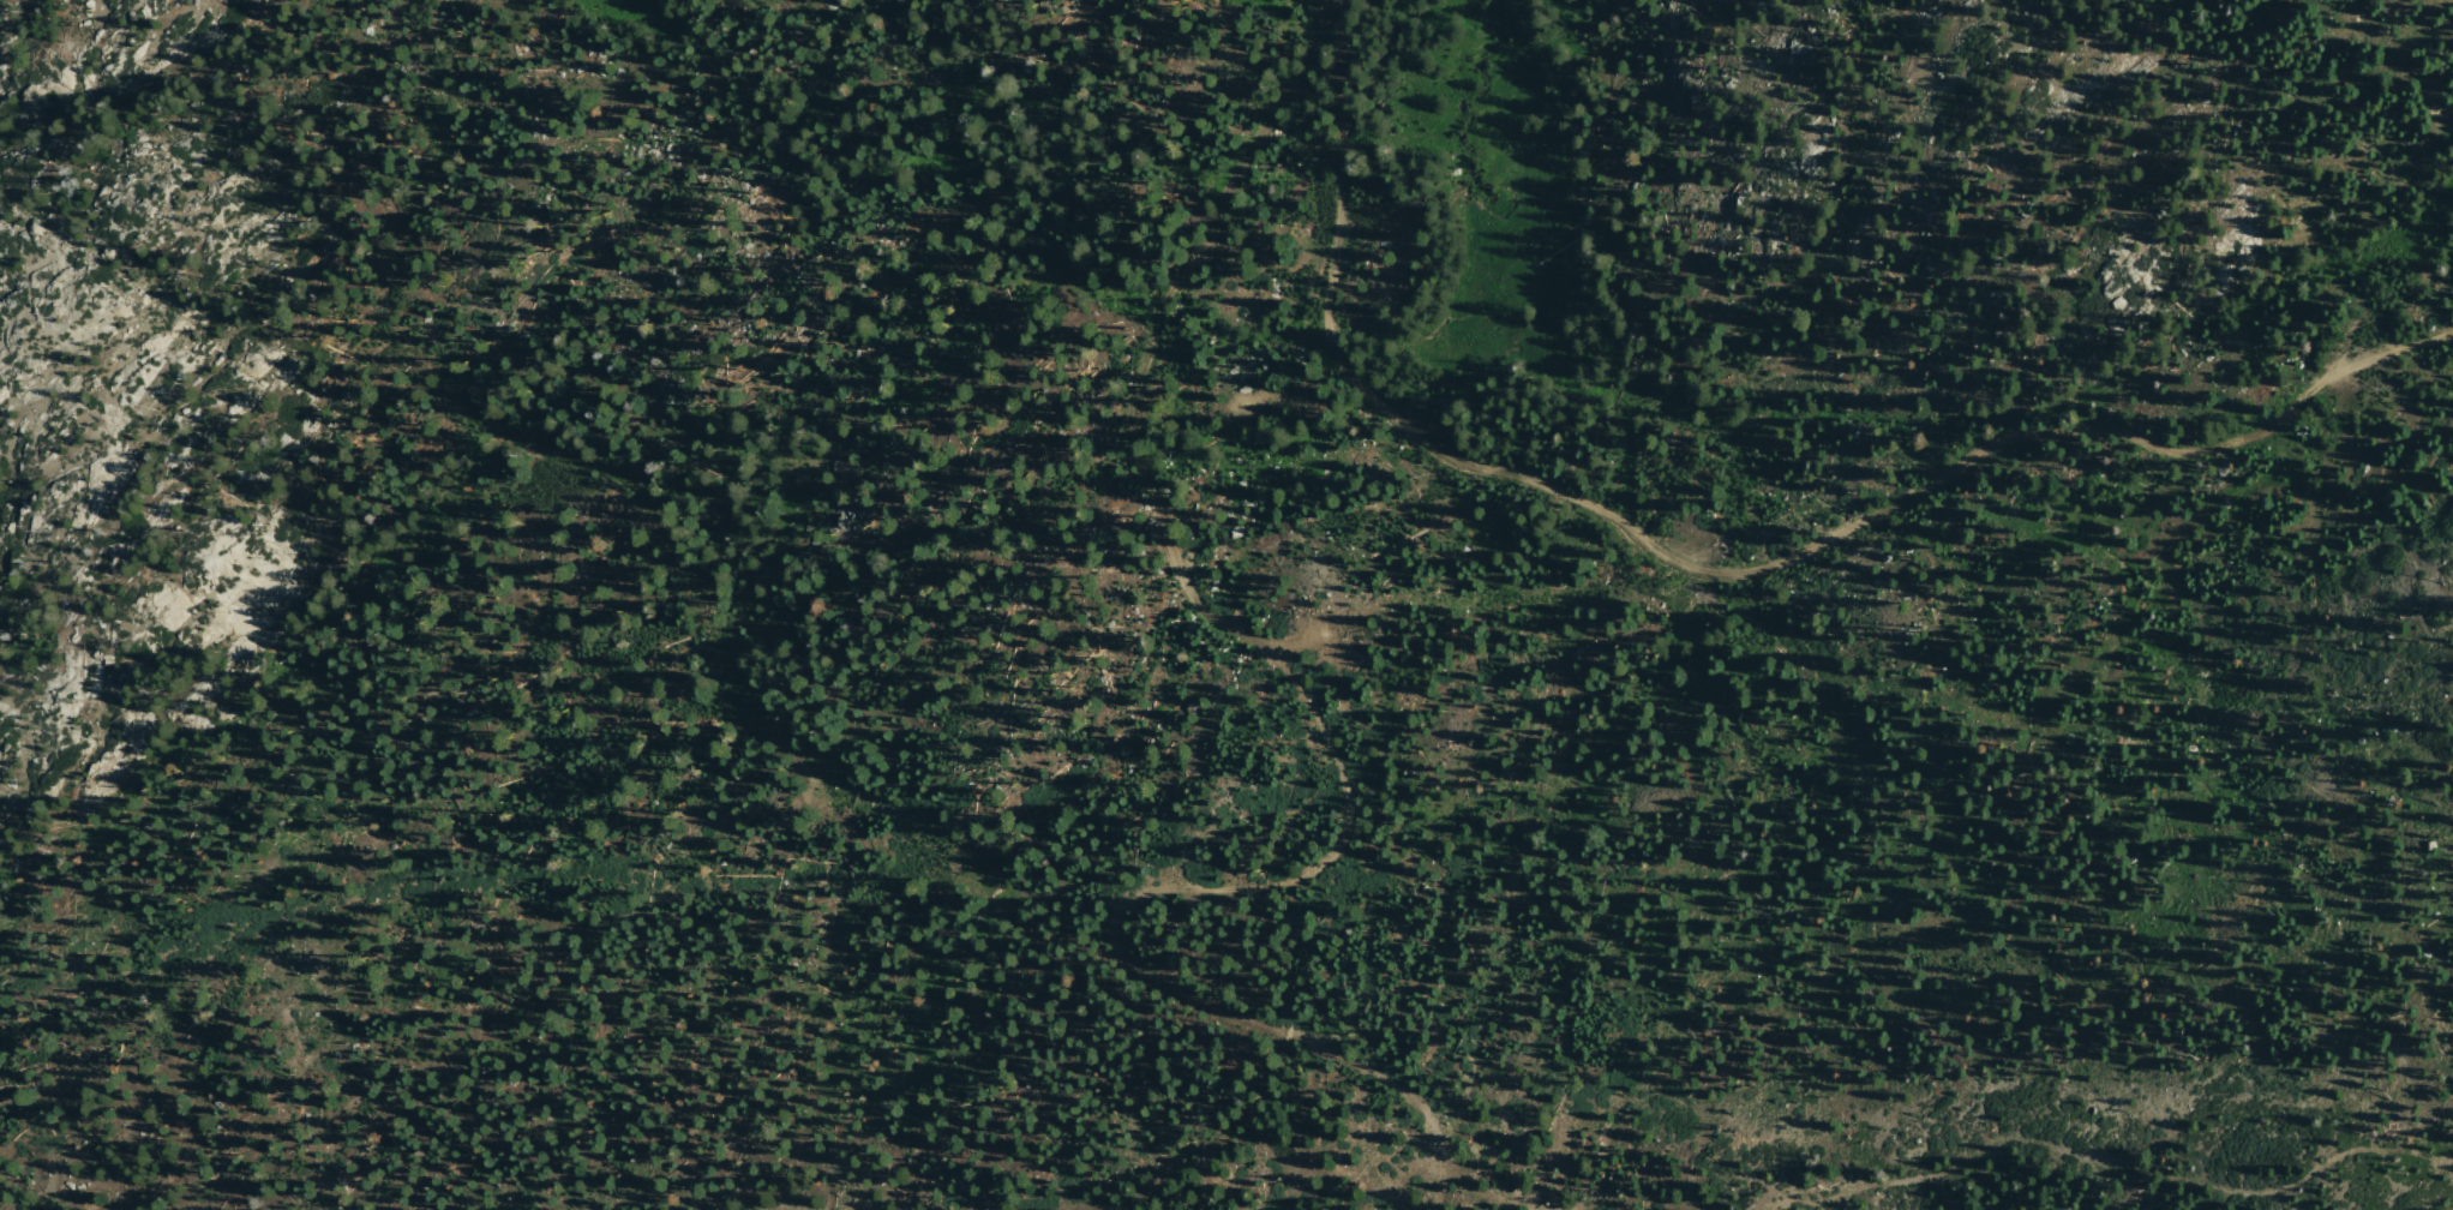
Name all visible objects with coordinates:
road: (1755, 514)
road: (1257, 706)

